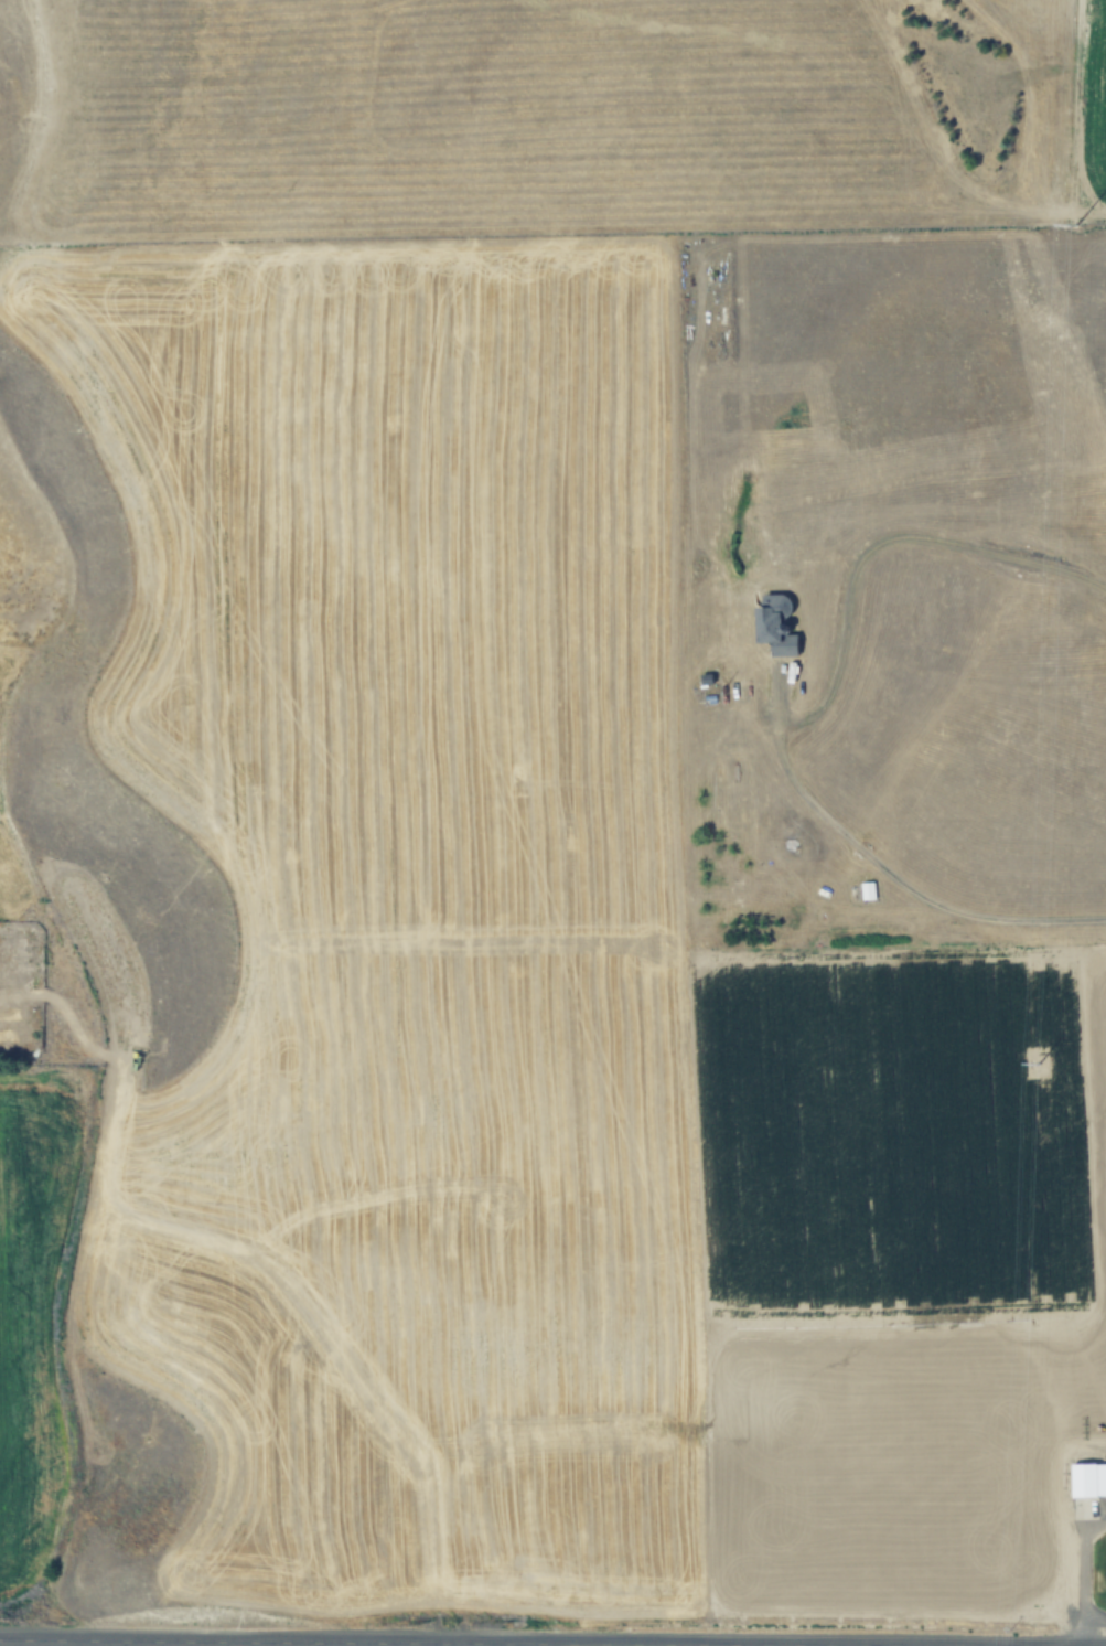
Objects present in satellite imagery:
power tower: (1074, 224)
building: (775, 626)
power tower: (1033, 1065)
building: (1088, 1481)
road: (373, 1643)

